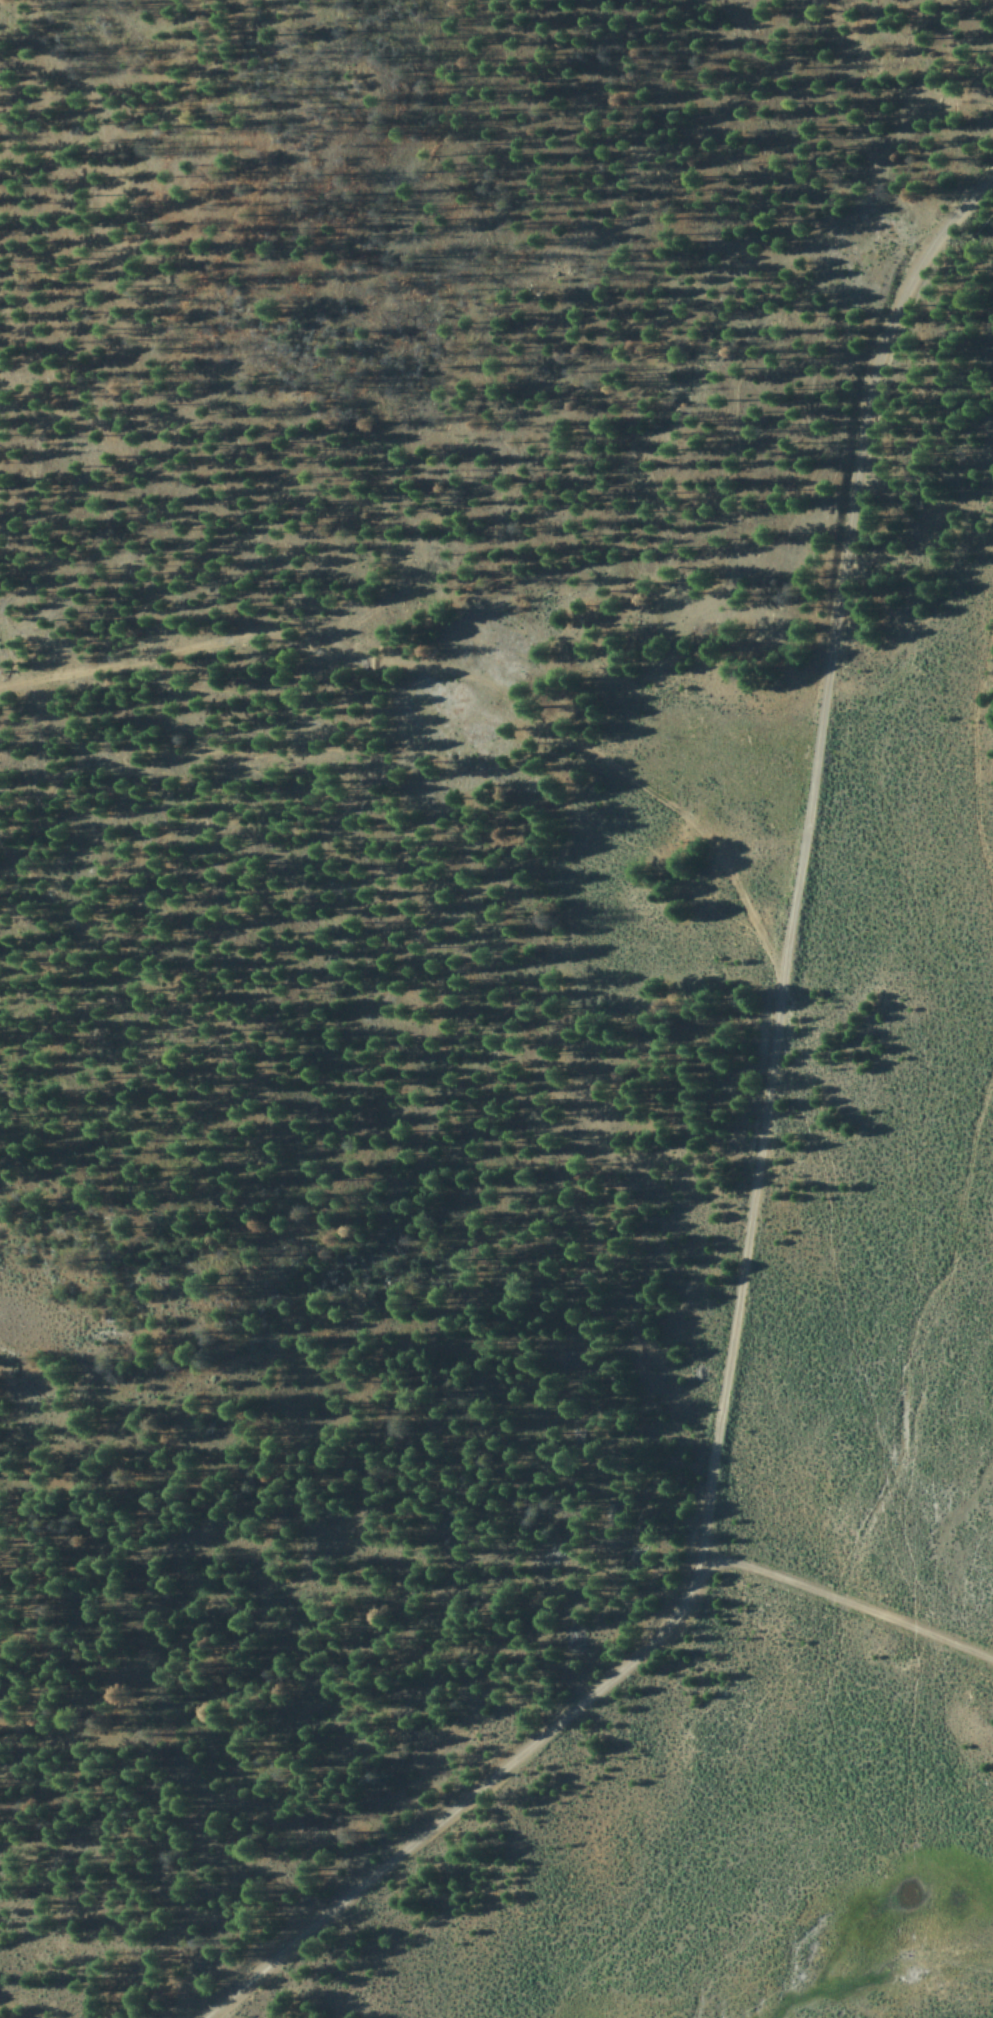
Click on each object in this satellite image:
road: (794, 857)
road: (846, 1745)
road: (432, 1794)

